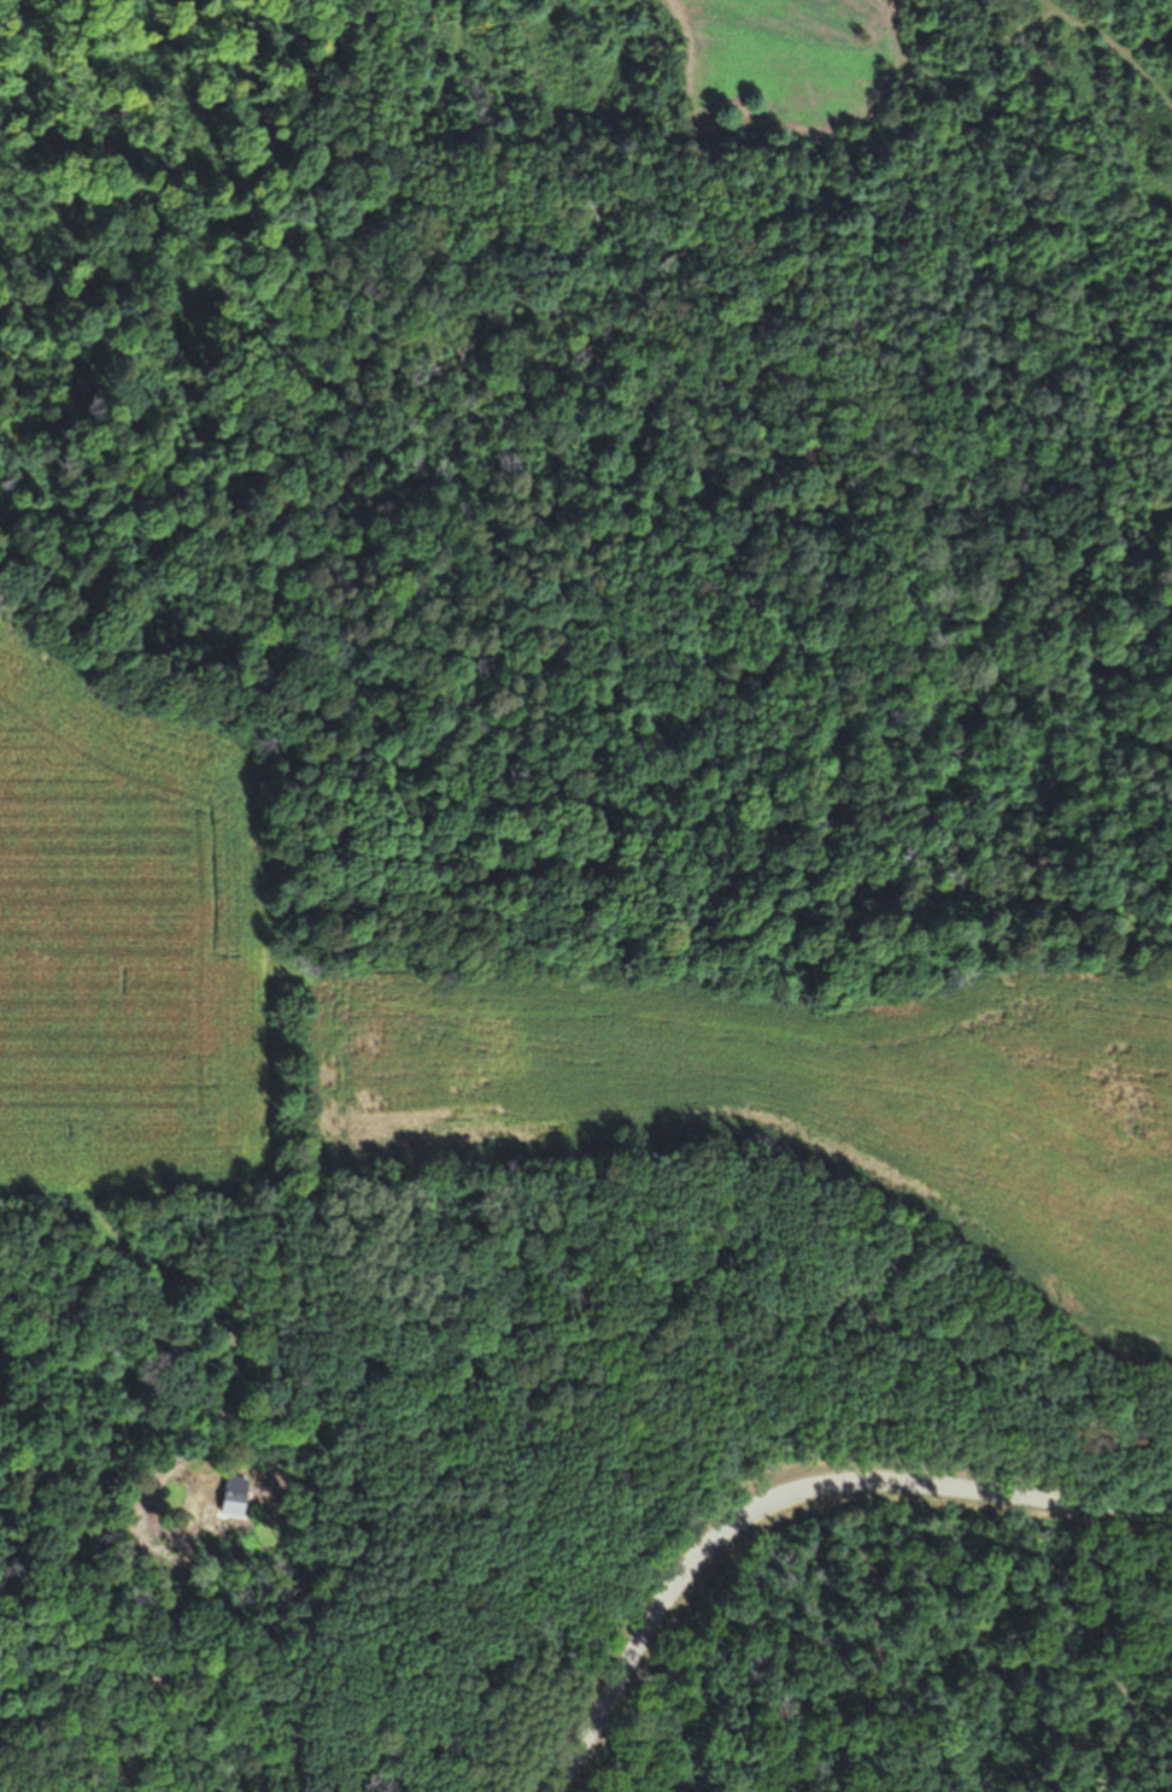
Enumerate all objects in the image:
road: (789, 1493)

